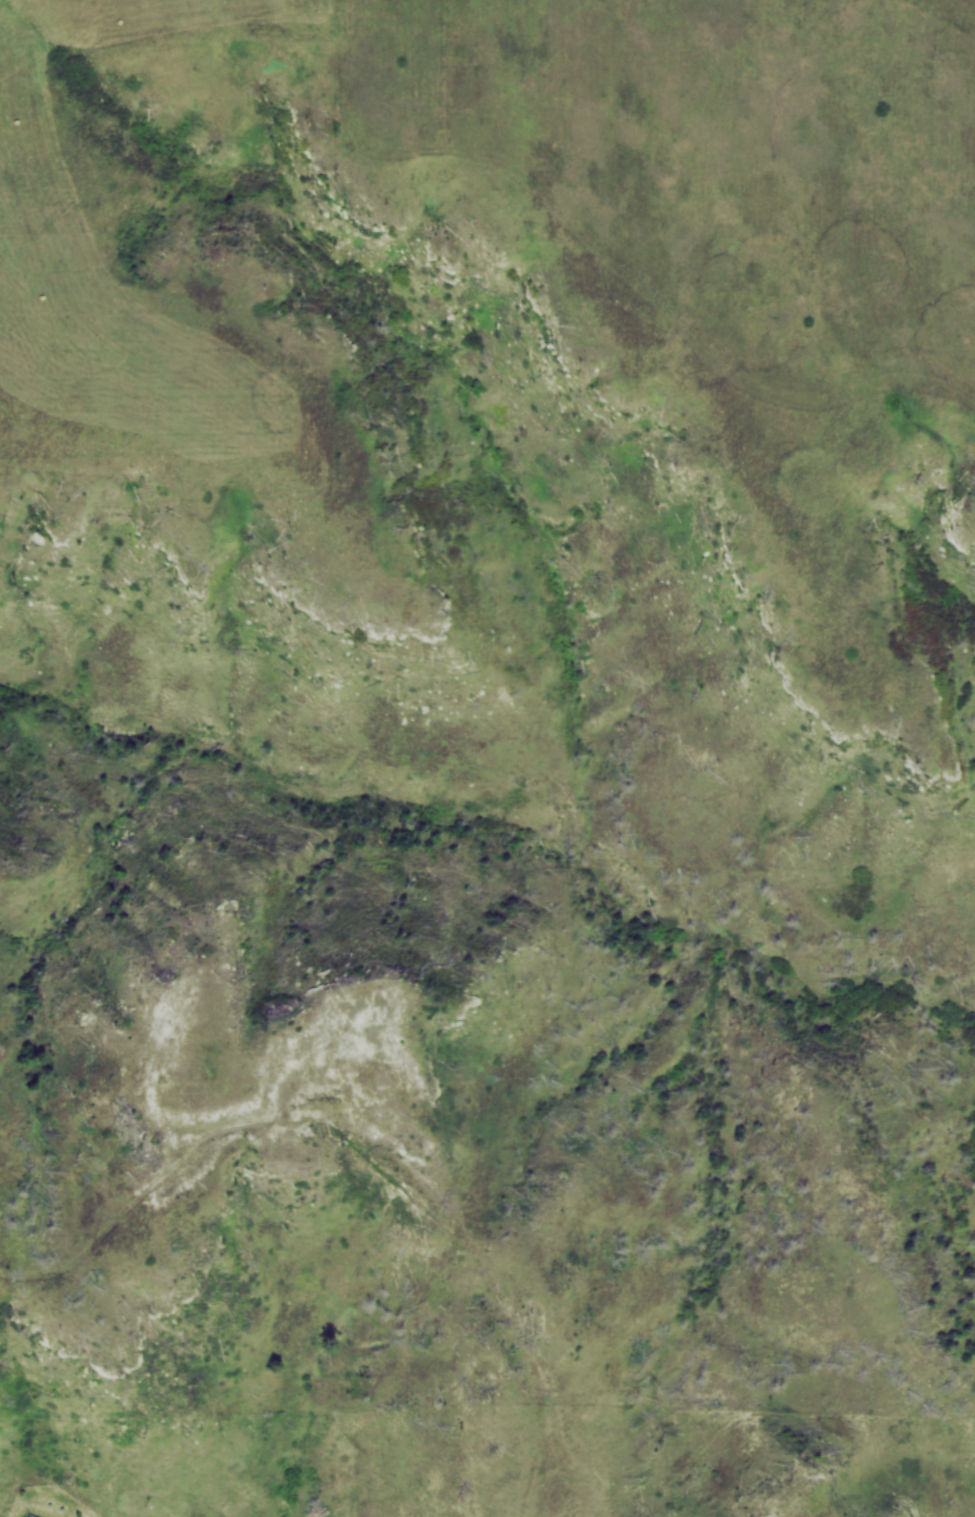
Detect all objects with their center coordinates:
building: (31, 1515)

